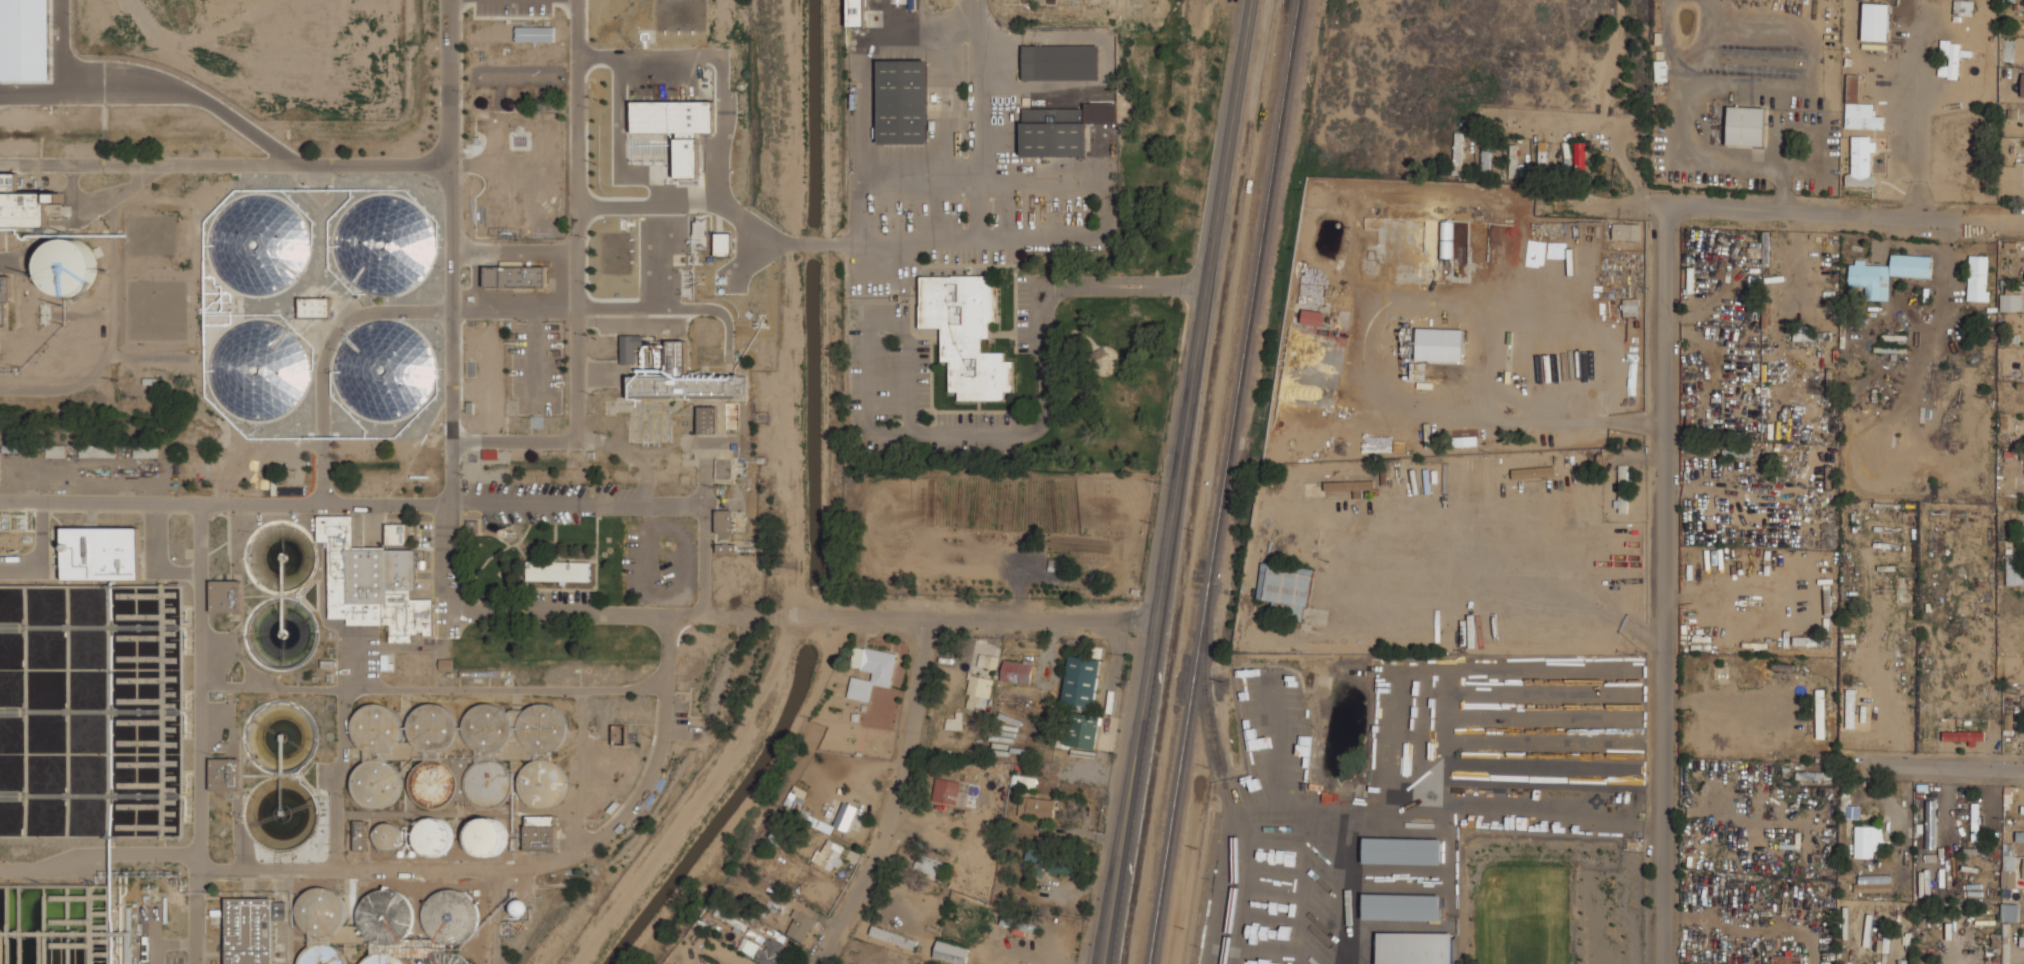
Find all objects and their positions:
building: (1875, 21)
building: (535, 33)
building: (26, 40)
building: (1949, 59)
building: (1061, 62)
building: (1660, 70)
building: (2022, 85)
building: (903, 101)
building: (1859, 108)
road: (448, 125)
building: (1745, 126)
building: (676, 127)
building: (1054, 131)
building: (1486, 155)
building: (1542, 155)
building: (1580, 157)
building: (1860, 161)
building: (1515, 162)
building: (294, 191)
road: (1350, 201)
road: (1544, 207)
building: (27, 209)
building: (332, 209)
road: (1844, 215)
building: (1627, 231)
road: (1028, 236)
building: (722, 244)
road: (491, 251)
building: (70, 258)
building: (1910, 265)
building: (516, 275)
building: (1978, 277)
building: (1870, 279)
building: (4, 300)
building: (2010, 302)
road: (1216, 303)
building: (315, 307)
building: (1313, 317)
building: (967, 333)
building: (1440, 344)
building: (630, 348)
building: (688, 385)
building: (707, 418)
road: (1043, 425)
building: (57, 450)
building: (1737, 451)
building: (143, 453)
building: (0, 461)
building: (1525, 472)
road: (1177, 482)
railway: (1225, 482)
building: (1623, 488)
wastewater plant: (380, 496)
road: (2011, 497)
building: (725, 521)
building: (394, 532)
building: (725, 547)
building: (101, 552)
building: (2014, 569)
building: (559, 571)
building: (373, 582)
road: (1660, 586)
building: (1285, 589)
building: (225, 595)
road: (1736, 598)
road: (997, 618)
building: (445, 664)
building: (1017, 671)
building: (882, 673)
building: (1082, 680)
building: (979, 691)
building: (1850, 708)
building: (1820, 713)
building: (955, 723)
building: (376, 726)
building: (432, 727)
building: (1083, 730)
building: (541, 731)
building: (487, 754)
road: (1954, 766)
building: (225, 773)
railway: (1222, 774)
building: (1382, 774)
building: (1817, 775)
building: (376, 780)
building: (1028, 781)
building: (543, 782)
building: (431, 783)
road: (1143, 785)
building: (947, 790)
road: (887, 795)
building: (1037, 806)
building: (846, 816)
building: (1975, 822)
building: (540, 832)
building: (360, 835)
building: (387, 836)
building: (433, 836)
building: (488, 836)
building: (2019, 836)
building: (1867, 841)
building: (1402, 850)
building: (830, 854)
building: (1052, 859)
building: (929, 864)
building: (2008, 866)
building: (2023, 869)
building: (1873, 883)
building: (521, 907)
building: (1402, 907)
building: (2009, 912)
building: (736, 921)
building: (381, 925)
building: (800, 925)
building: (253, 929)
building: (895, 937)
building: (2021, 941)
building: (1414, 947)
building: (766, 950)
building: (951, 951)
building: (119, 955)
building: (447, 958)
building: (1902, 961)
building: (715, 963)

